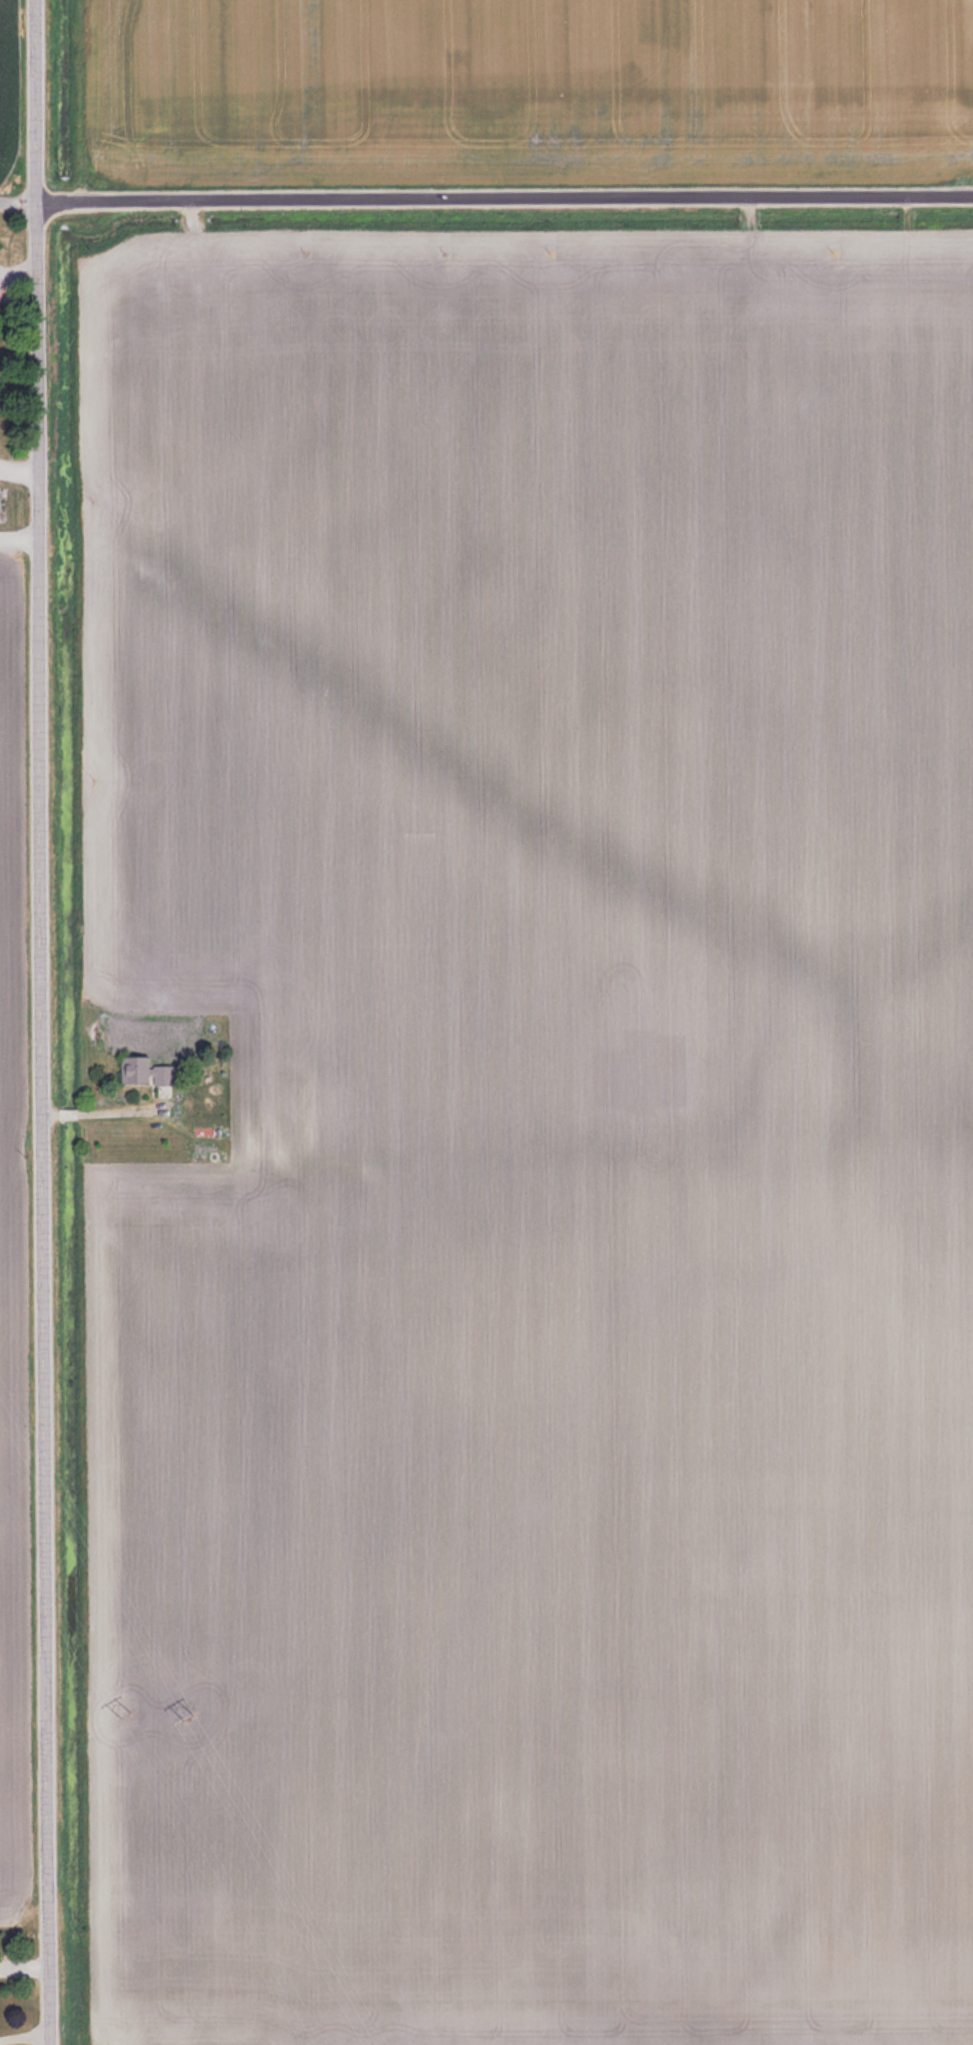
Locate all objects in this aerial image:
road: (508, 203)
road: (22, 209)
road: (49, 1022)
building: (143, 1071)
power tower: (185, 1713)
power tower: (122, 1729)

